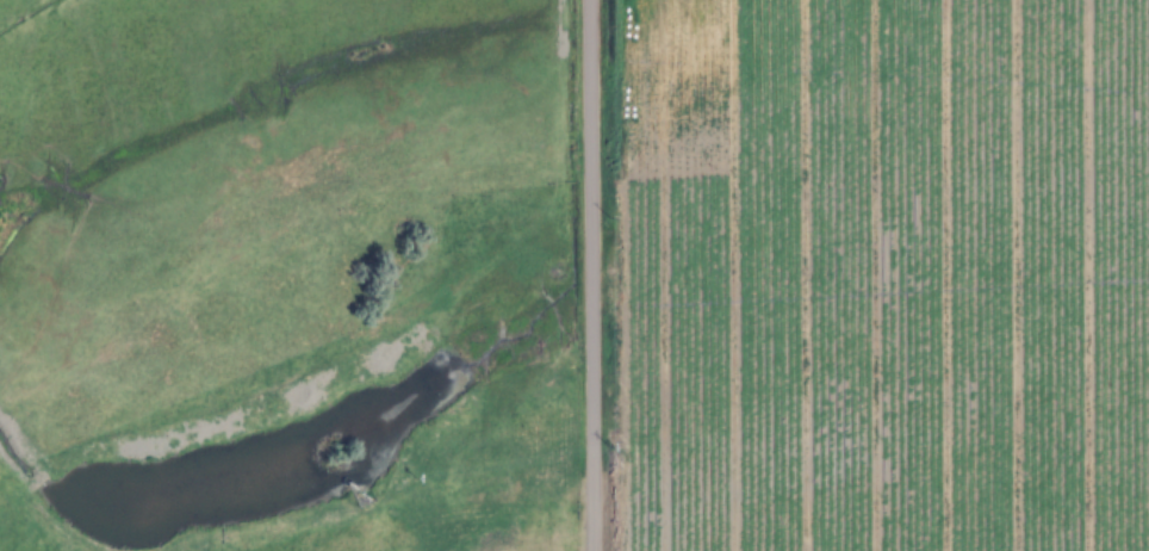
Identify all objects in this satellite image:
road: (588, 274)
crop: (574, 275)
building: (647, 525)

